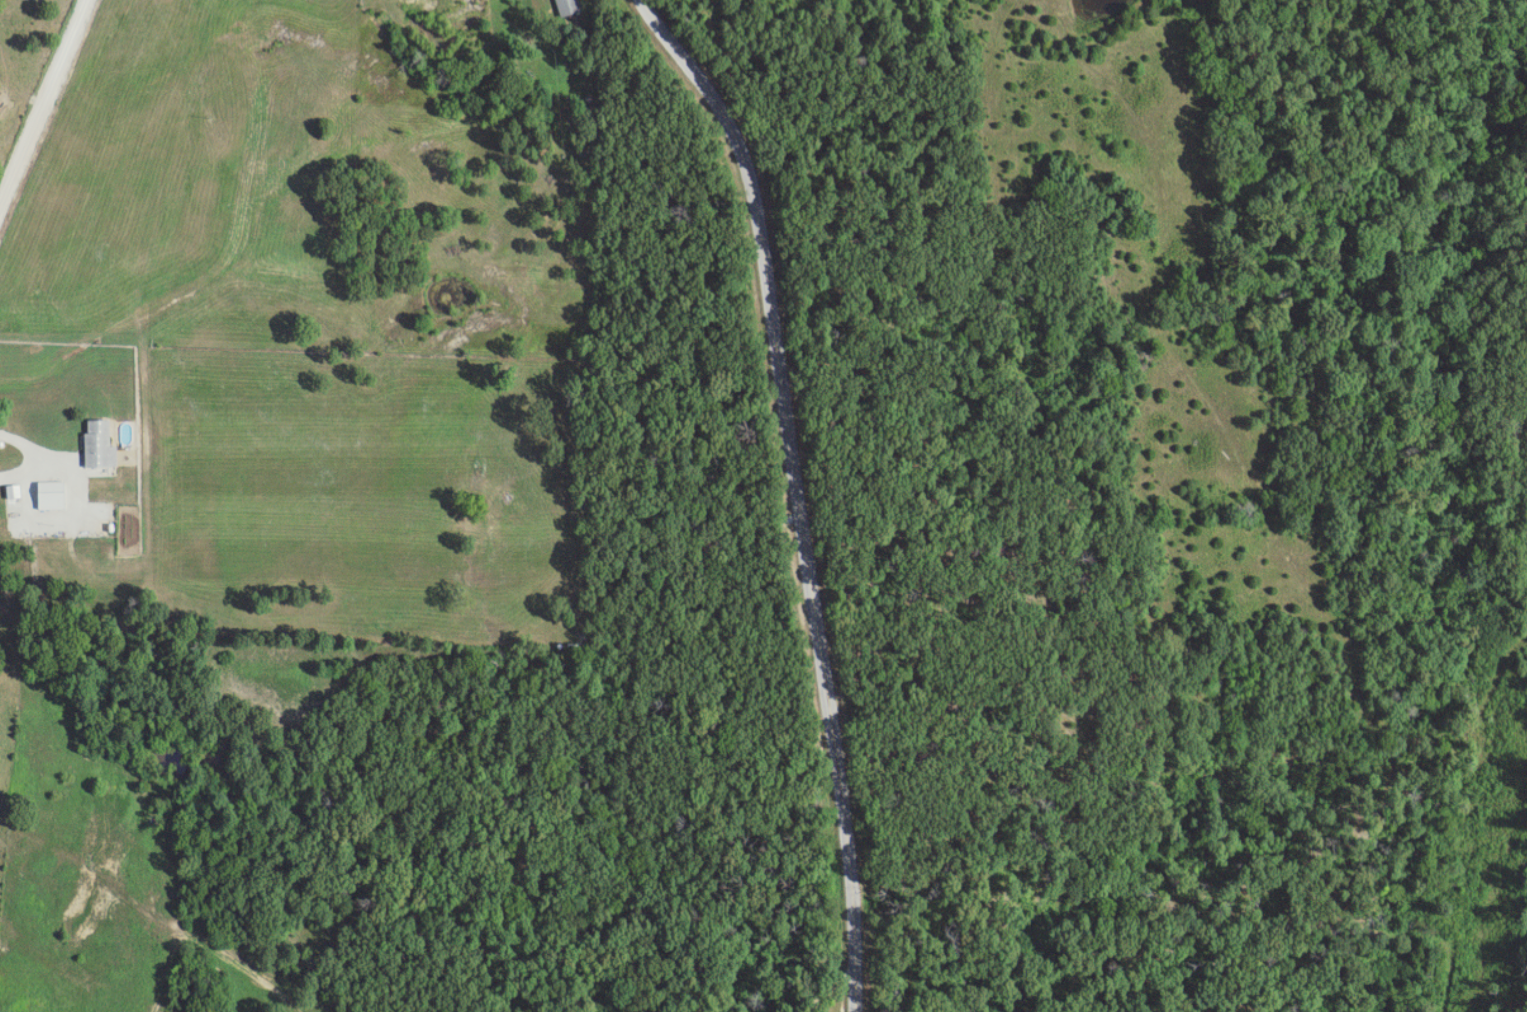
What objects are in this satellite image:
building: (567, 7)
road: (46, 109)
building: (97, 446)
road: (40, 454)
road: (801, 490)
building: (12, 492)
building: (50, 496)
road: (183, 917)

